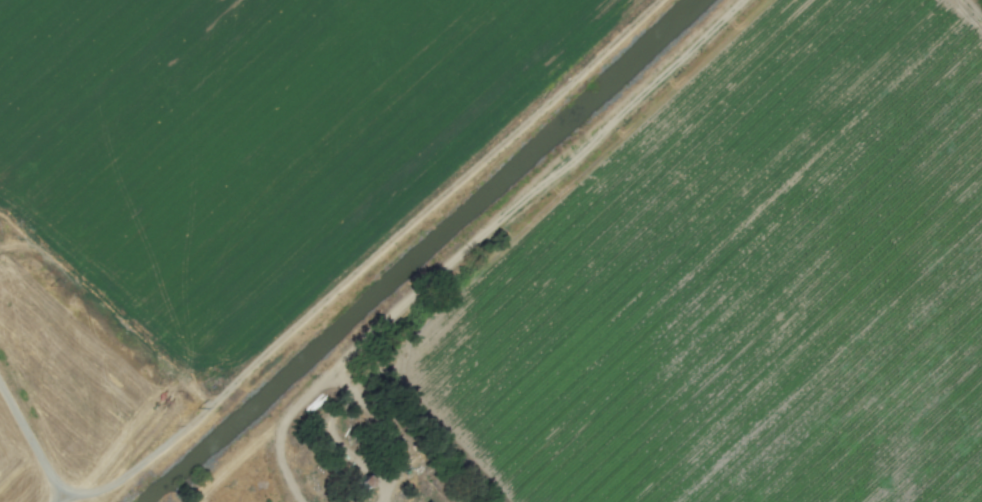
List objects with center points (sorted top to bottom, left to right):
crop: (744, 285)
building: (426, 501)
building: (426, 501)

